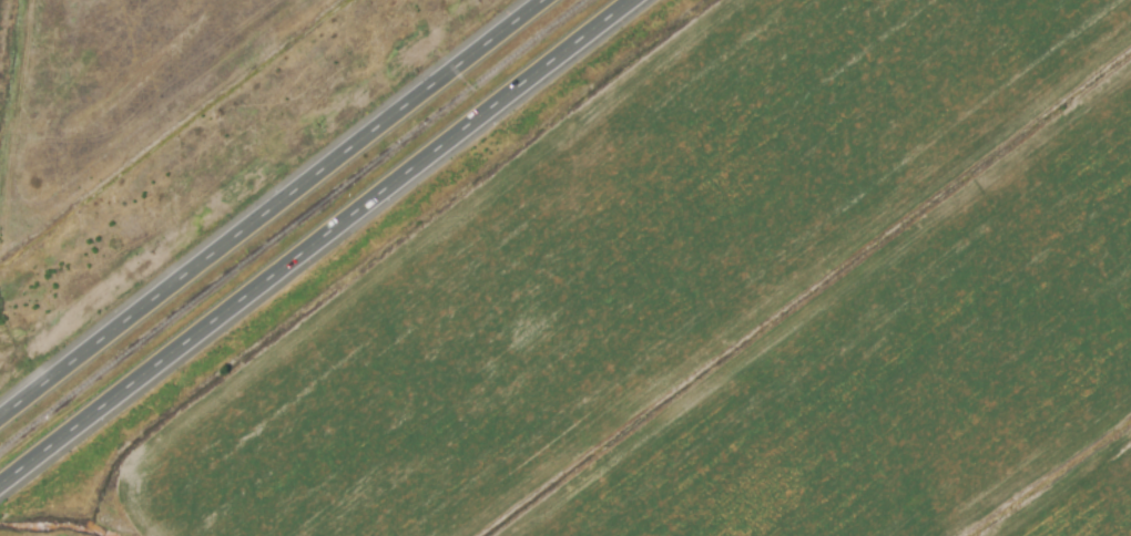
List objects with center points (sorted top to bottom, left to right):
road: (272, 208)
road: (316, 241)

